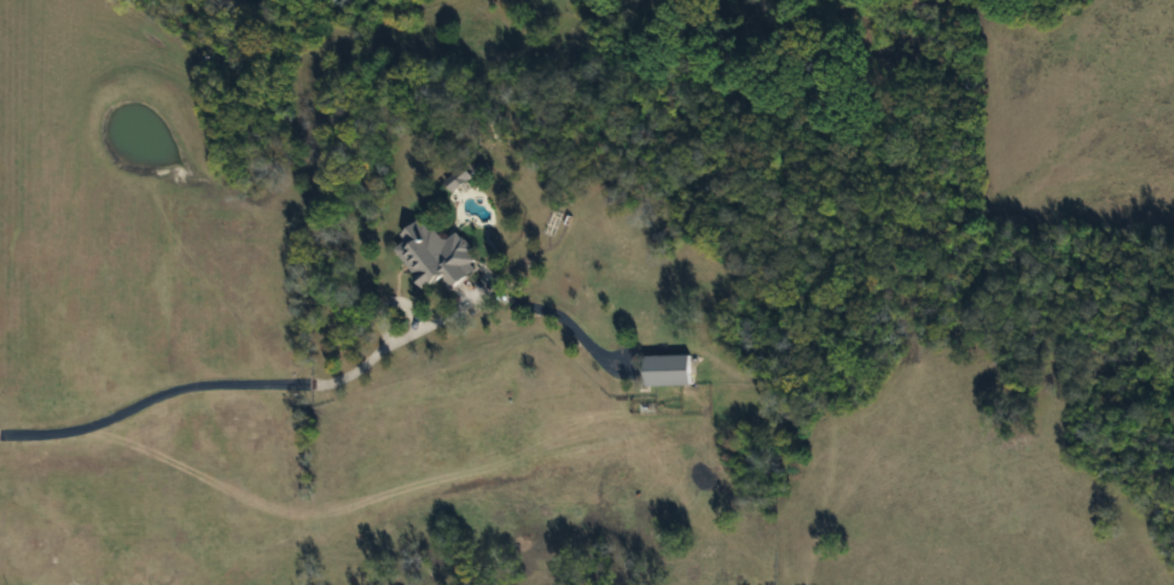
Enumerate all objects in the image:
building: (432, 257)
building: (664, 370)
road: (325, 384)

